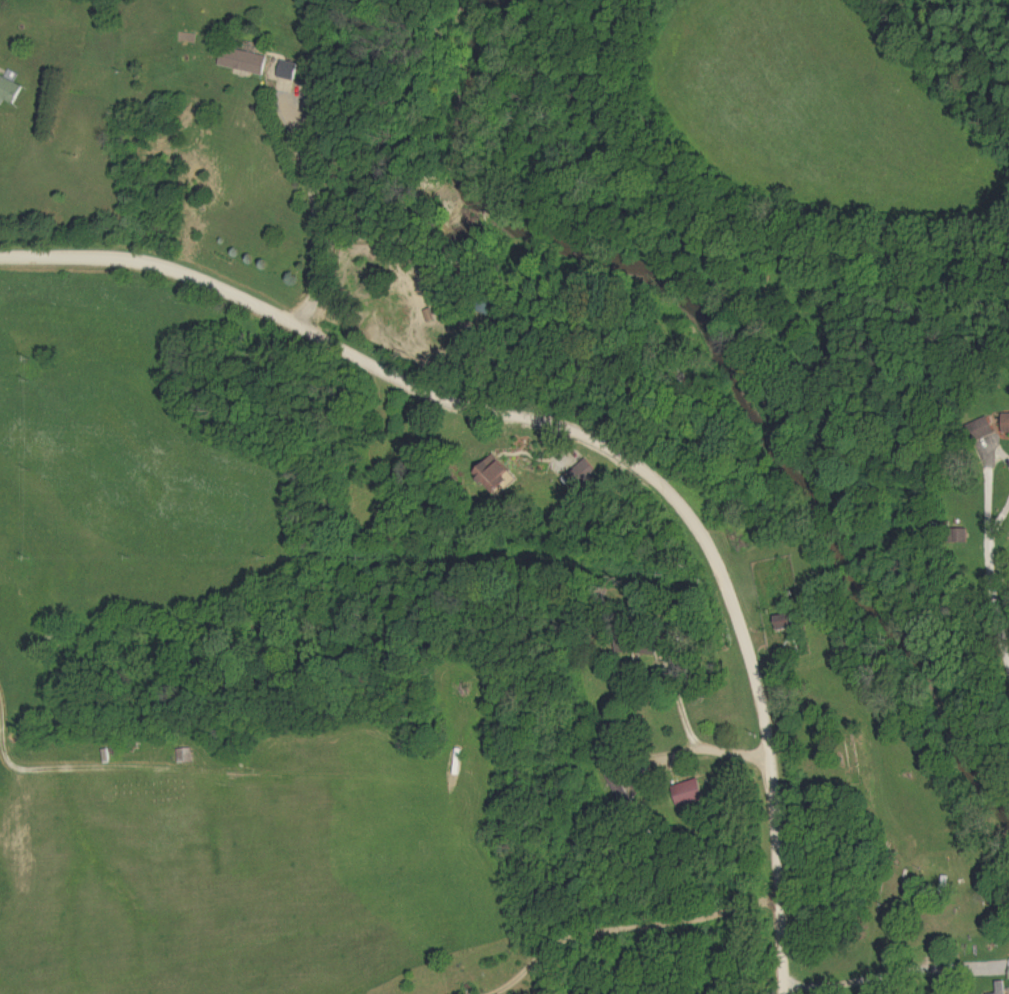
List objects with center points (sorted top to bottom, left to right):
building: (247, 62)
building: (291, 71)
building: (10, 91)
road: (317, 220)
building: (1007, 424)
building: (987, 428)
road: (584, 436)
building: (585, 474)
building: (497, 476)
road: (990, 497)
road: (999, 526)
road: (992, 613)
building: (785, 623)
building: (187, 756)
road: (15, 767)
building: (690, 795)
road: (624, 926)
road: (879, 977)
building: (1003, 987)
road: (784, 991)

